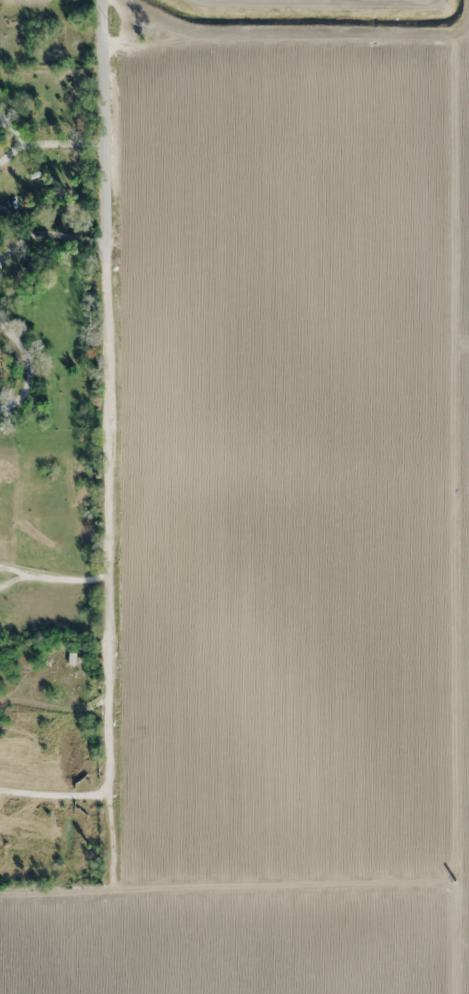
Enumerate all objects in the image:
road: (104, 123)
road: (108, 559)
crop: (228, 942)

